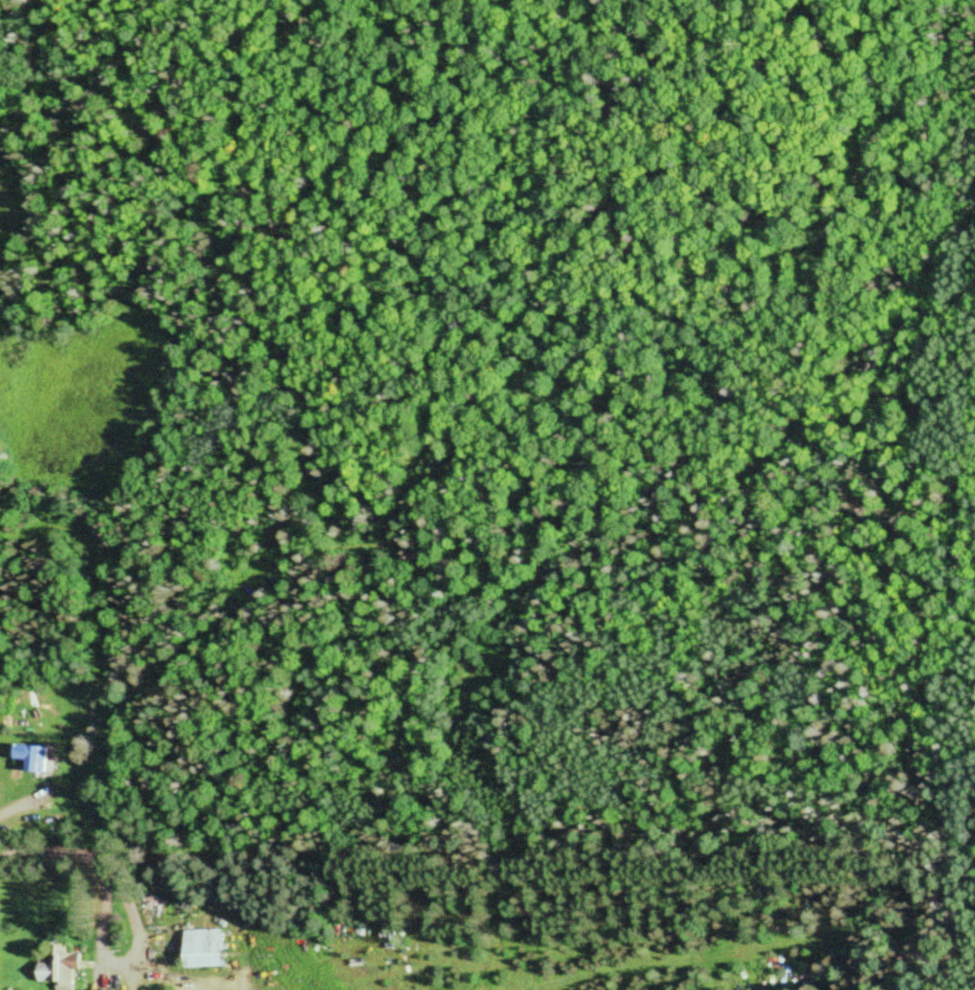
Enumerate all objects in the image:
building: (35, 757)
building: (206, 948)
building: (60, 966)

